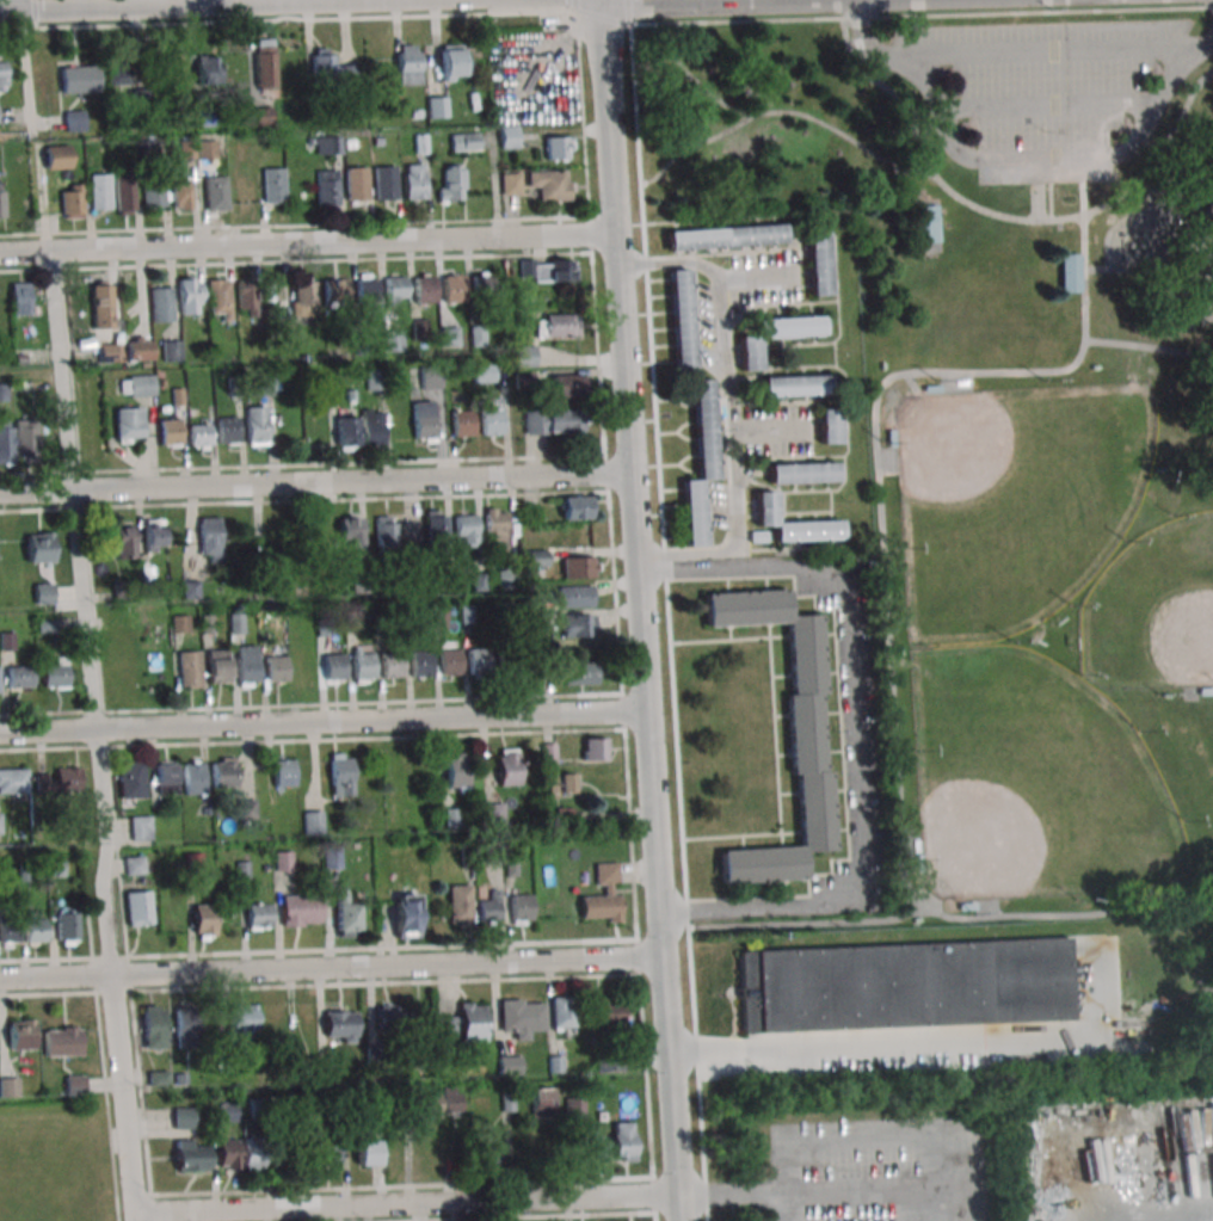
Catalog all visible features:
road: (17, 6)
road: (216, 6)
road: (849, 17)
road: (735, 20)
road: (1052, 51)
building: (322, 62)
building: (451, 62)
building: (265, 63)
building: (408, 64)
road: (25, 73)
building: (123, 73)
building: (207, 74)
building: (2, 75)
building: (349, 75)
parking lot: (1046, 75)
road: (691, 76)
building: (80, 79)
building: (437, 106)
road: (1047, 106)
road: (783, 111)
building: (74, 121)
building: (507, 136)
building: (464, 142)
building: (328, 144)
building: (555, 148)
road: (1157, 150)
road: (1190, 153)
building: (57, 156)
road: (1016, 156)
building: (413, 181)
building: (386, 183)
building: (450, 183)
building: (510, 183)
building: (357, 184)
building: (549, 184)
building: (273, 185)
building: (327, 187)
building: (100, 191)
building: (216, 193)
building: (124, 195)
building: (181, 195)
building: (154, 196)
building: (1, 201)
building: (72, 202)
building: (922, 224)
road: (1113, 226)
building: (725, 236)
road: (1084, 247)
road: (1158, 248)
road: (304, 249)
road: (669, 261)
building: (818, 261)
building: (547, 270)
road: (1122, 270)
building: (1070, 272)
road: (752, 277)
building: (365, 288)
building: (424, 288)
building: (452, 288)
building: (482, 288)
building: (334, 290)
building: (395, 290)
building: (190, 296)
building: (246, 297)
building: (20, 298)
building: (220, 298)
building: (303, 301)
building: (101, 304)
building: (161, 304)
building: (682, 319)
building: (555, 325)
building: (478, 334)
building: (775, 334)
building: (449, 335)
building: (393, 340)
building: (171, 350)
building: (125, 351)
building: (485, 374)
building: (374, 380)
building: (136, 384)
building: (794, 384)
building: (263, 386)
building: (567, 386)
park: (1006, 418)
building: (491, 419)
building: (424, 421)
building: (462, 421)
building: (553, 421)
building: (129, 424)
building: (257, 426)
building: (829, 426)
building: (372, 427)
road: (764, 428)
building: (228, 430)
building: (346, 430)
building: (171, 432)
building: (199, 436)
building: (18, 440)
building: (701, 462)
road: (732, 463)
building: (801, 473)
road: (879, 473)
road: (659, 476)
road: (630, 481)
road: (314, 486)
road: (74, 493)
park: (1015, 500)
building: (577, 507)
building: (793, 523)
building: (436, 525)
building: (497, 528)
building: (321, 529)
building: (466, 529)
building: (350, 531)
building: (384, 531)
building: (154, 535)
building: (210, 539)
building: (124, 541)
building: (39, 547)
building: (536, 557)
building: (578, 567)
building: (190, 588)
building: (44, 593)
building: (575, 596)
park: (1153, 611)
building: (179, 624)
building: (577, 625)
building: (478, 660)
building: (510, 660)
building: (448, 661)
building: (246, 662)
building: (362, 664)
building: (390, 664)
building: (419, 664)
building: (217, 666)
building: (333, 666)
building: (189, 667)
building: (275, 667)
building: (55, 673)
building: (580, 673)
building: (19, 676)
building: (805, 701)
road: (368, 728)
road: (48, 735)
road: (857, 736)
building: (596, 750)
building: (549, 753)
building: (509, 767)
building: (338, 771)
building: (456, 771)
building: (222, 772)
building: (283, 772)
building: (128, 777)
building: (192, 777)
building: (165, 778)
building: (59, 779)
building: (13, 781)
park: (1033, 782)
building: (562, 783)
building: (247, 808)
building: (494, 812)
building: (449, 816)
building: (313, 822)
building: (0, 825)
building: (141, 827)
road: (104, 855)
building: (331, 858)
building: (283, 861)
building: (603, 895)
building: (460, 905)
building: (489, 906)
building: (138, 907)
building: (522, 908)
building: (301, 909)
road: (1059, 912)
building: (259, 915)
building: (406, 915)
building: (346, 917)
building: (204, 921)
road: (781, 925)
building: (31, 926)
building: (67, 926)
building: (7, 930)
road: (384, 969)
road: (55, 976)
building: (905, 985)
building: (609, 1011)
building: (564, 1012)
building: (523, 1017)
building: (244, 1018)
building: (388, 1019)
building: (340, 1025)
building: (154, 1026)
building: (186, 1028)
building: (20, 1034)
building: (62, 1041)
road: (878, 1048)
building: (510, 1065)
building: (74, 1085)
building: (8, 1086)
road: (669, 1092)
road: (122, 1093)
building: (452, 1098)
building: (543, 1102)
building: (427, 1104)
building: (574, 1108)
building: (226, 1112)
building: (184, 1117)
building: (624, 1141)
building: (487, 1148)
building: (593, 1149)
building: (368, 1151)
building: (327, 1152)
building: (228, 1153)
building: (253, 1153)
building: (191, 1155)
road: (823, 1189)
road: (406, 1203)
road: (784, 1205)
road: (135, 1216)

